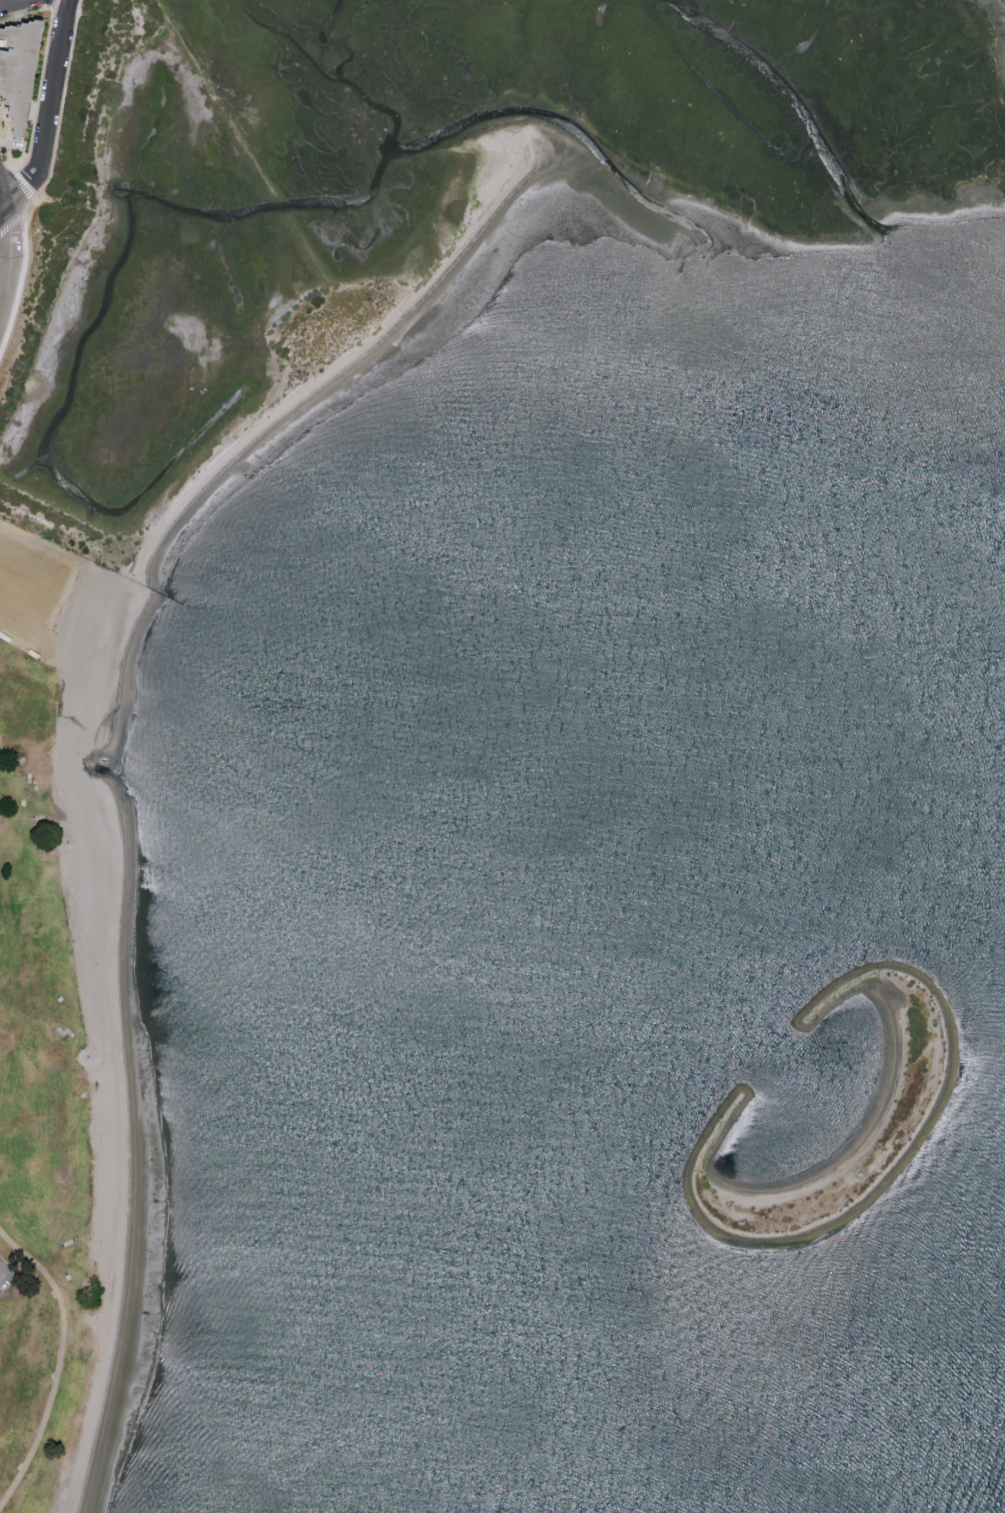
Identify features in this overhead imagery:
road: (13, 3)
building: (15, 71)
road: (48, 113)
road: (9, 262)
park: (39, 1108)
road: (3, 1273)
parking lot: (7, 1276)
road: (61, 1365)

